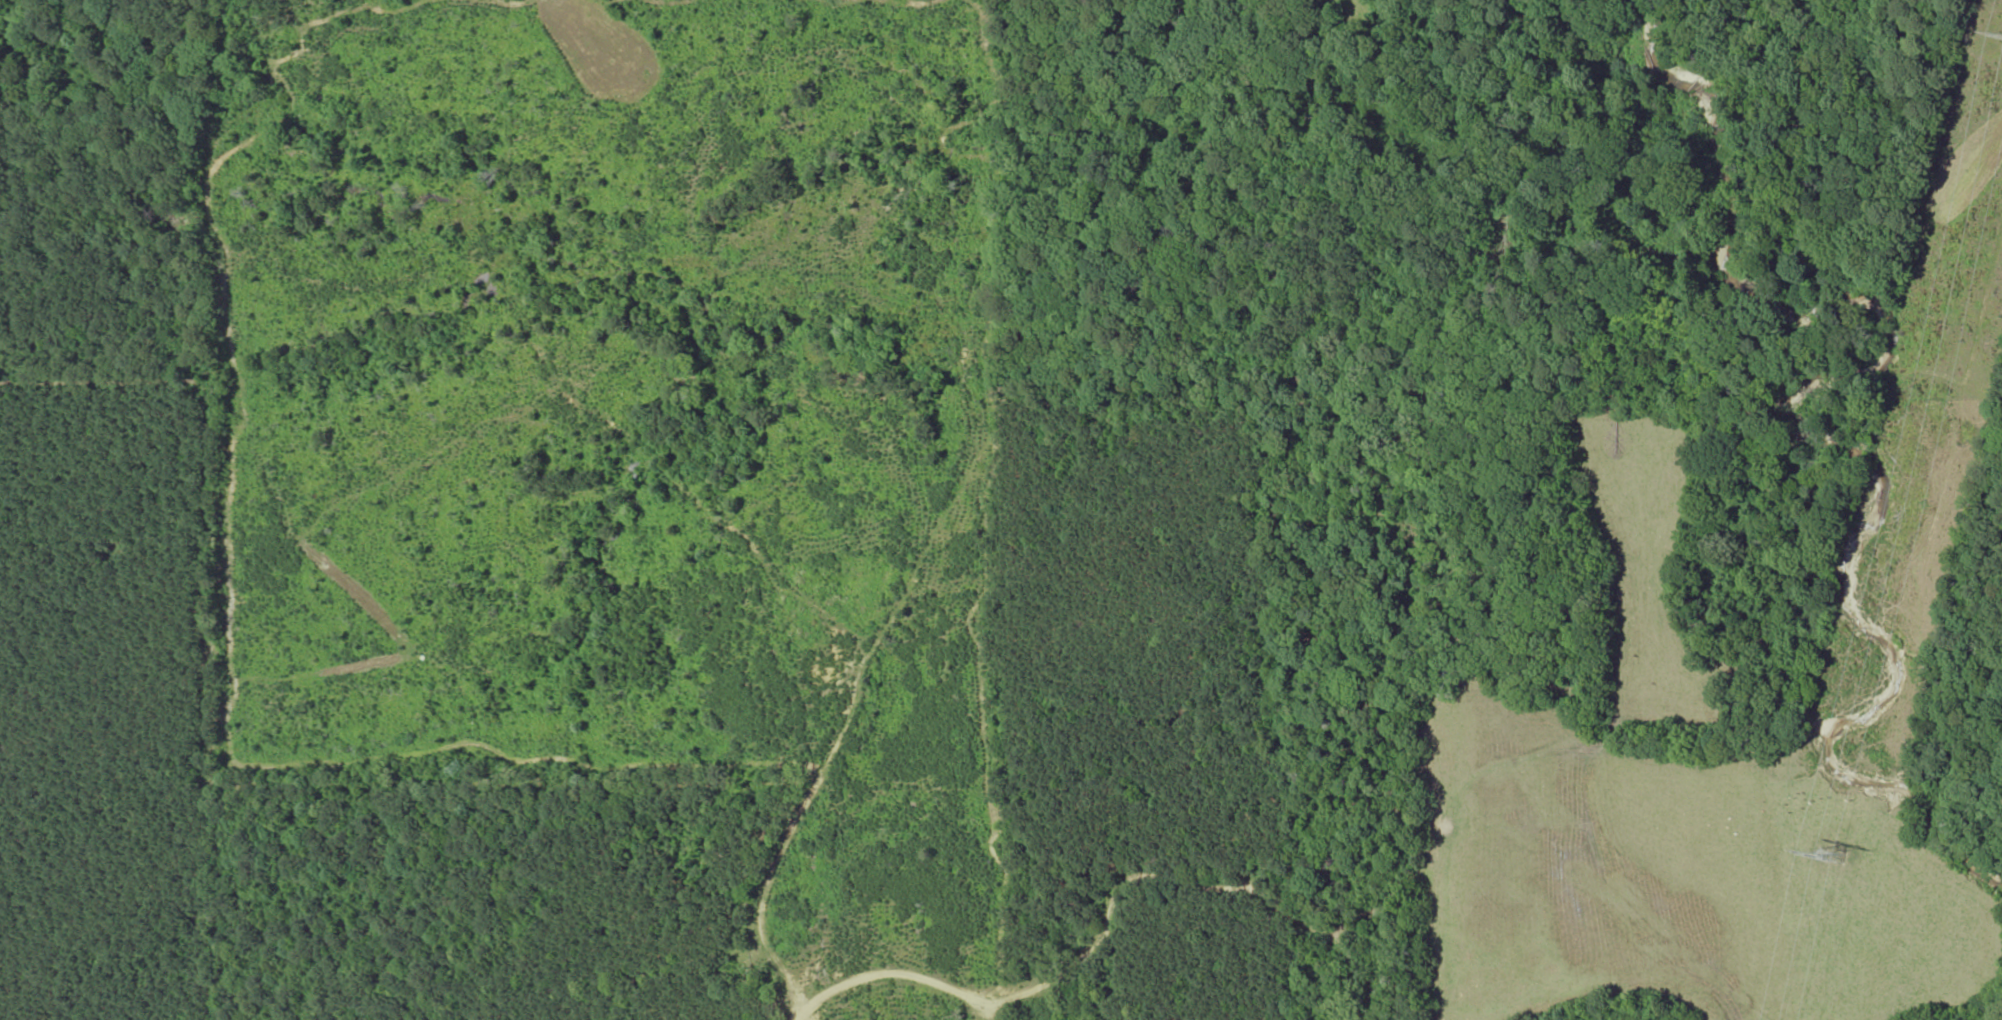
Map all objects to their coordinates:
power tower: (1842, 853)
road: (883, 975)

